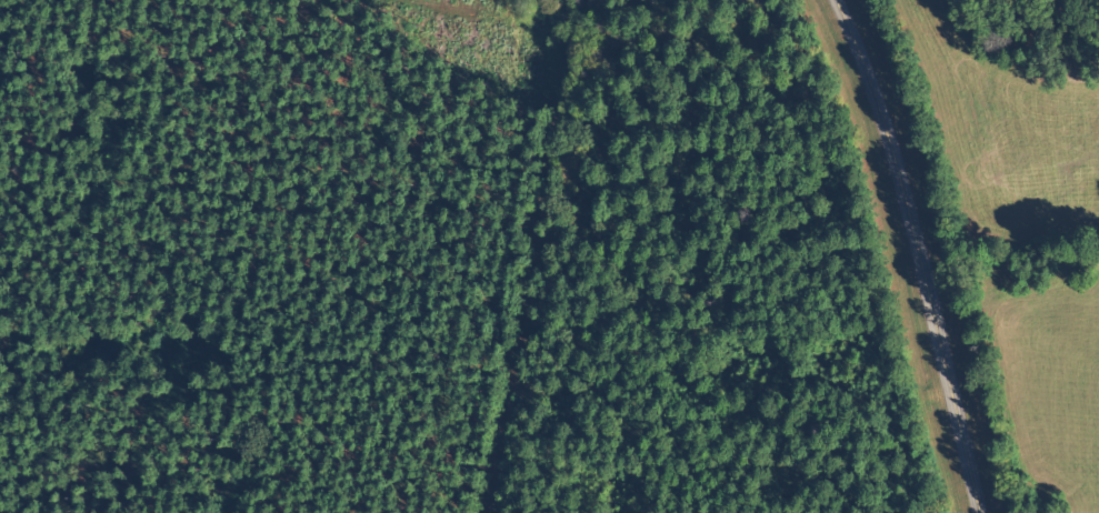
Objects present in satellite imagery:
road: (918, 252)

